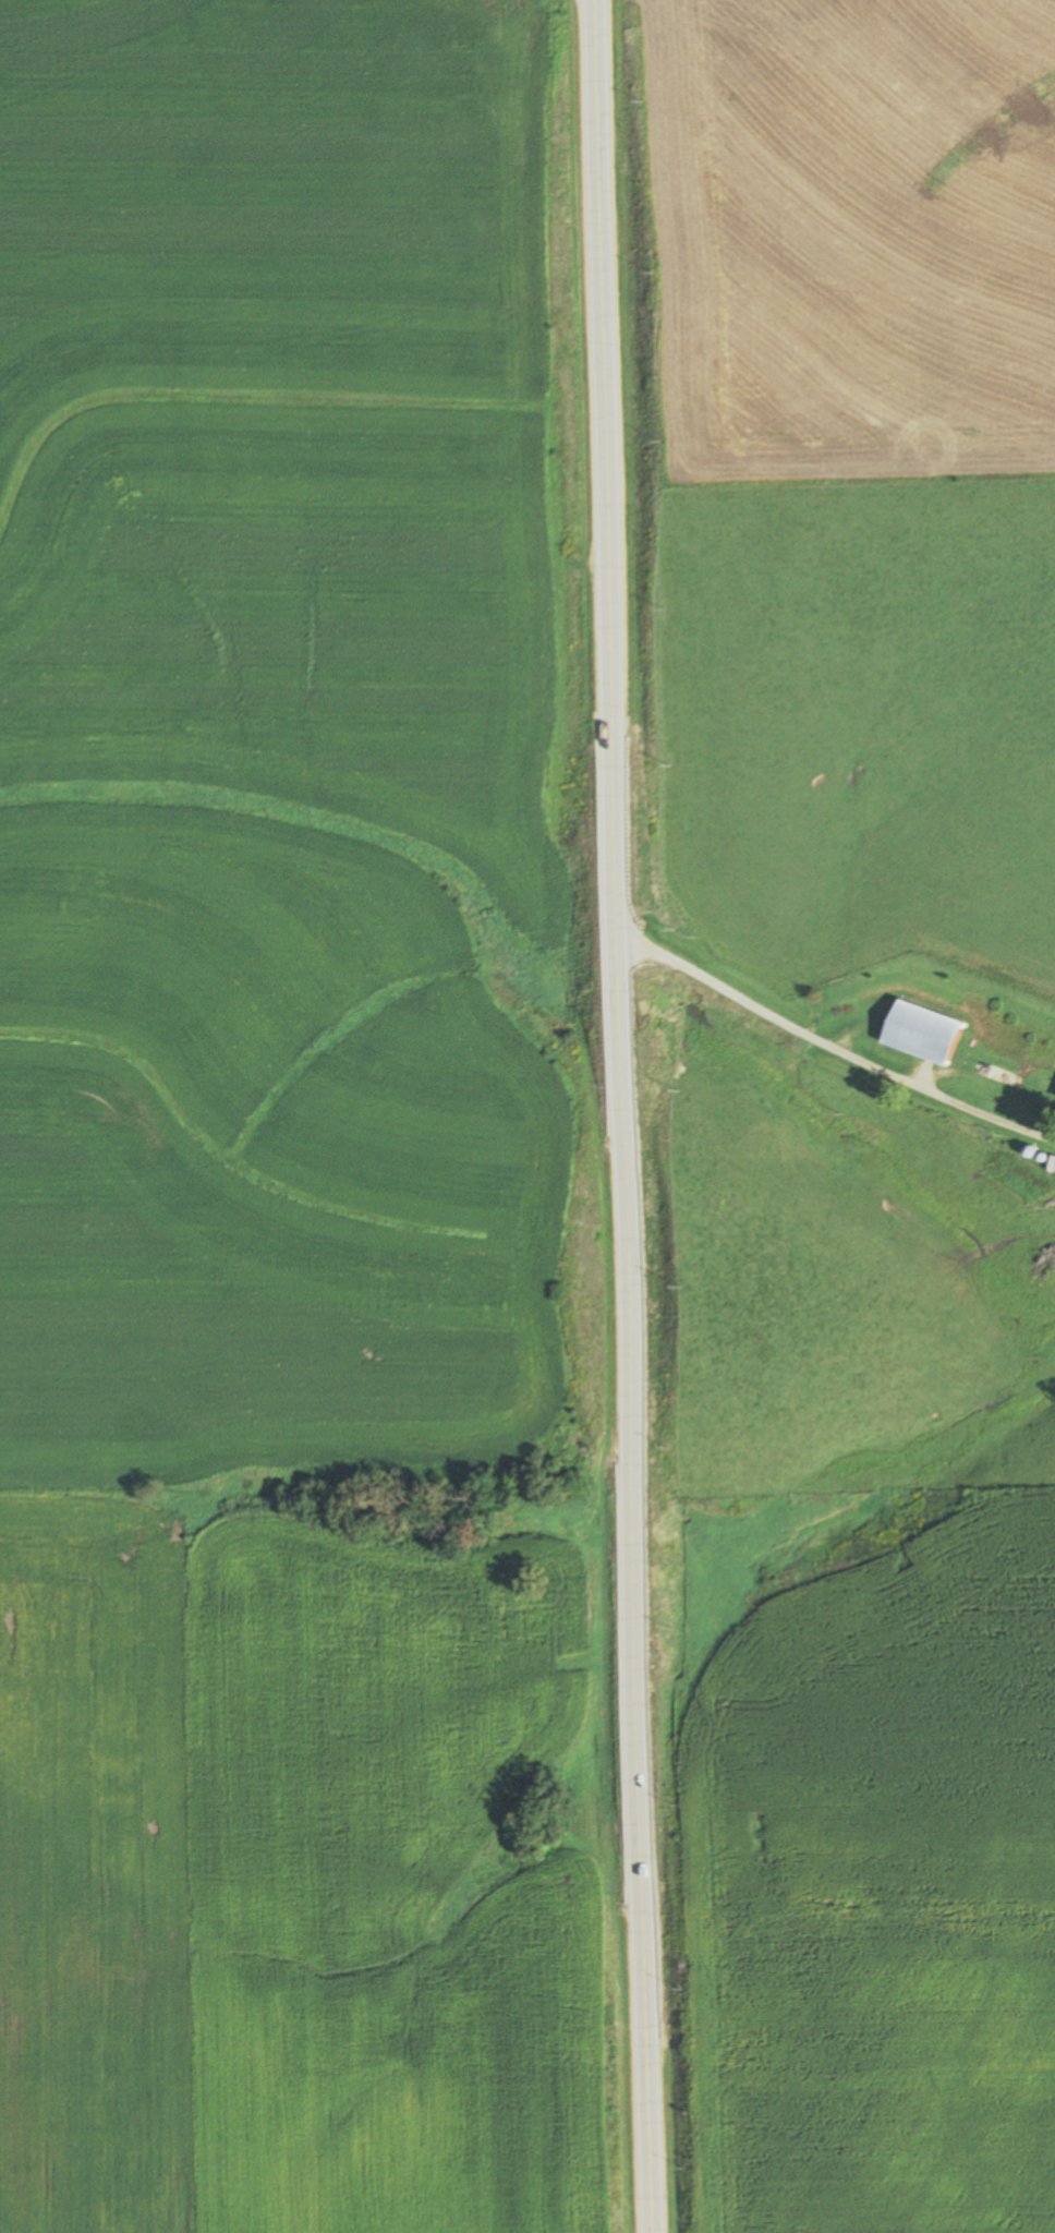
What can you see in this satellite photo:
building: (920, 1033)
road: (834, 1042)
road: (617, 1116)
building: (1051, 1167)

